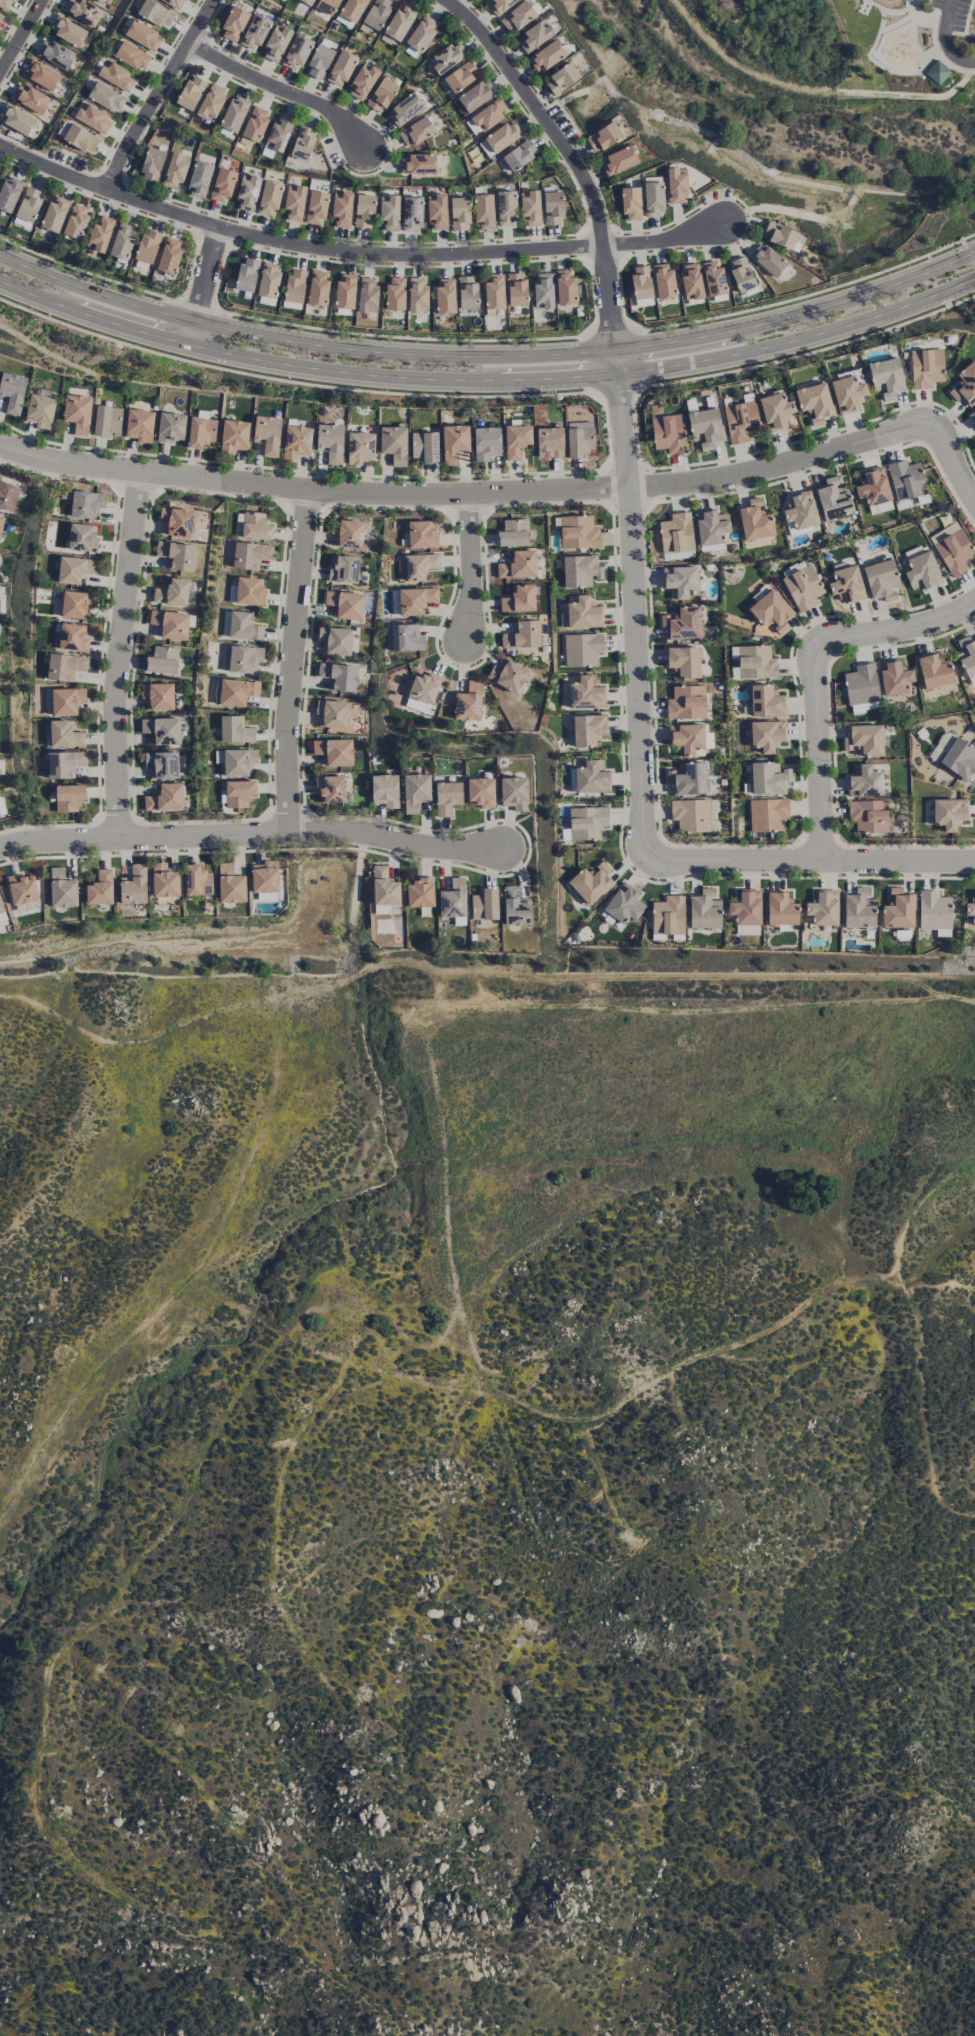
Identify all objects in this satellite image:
building: (102, 0)
building: (308, 1)
building: (174, 3)
building: (5, 4)
building: (327, 5)
building: (498, 5)
building: (83, 11)
road: (888, 11)
building: (155, 12)
building: (351, 12)
building: (377, 13)
road: (921, 14)
building: (1, 15)
road: (917, 15)
building: (517, 16)
road: (967, 16)
building: (233, 23)
building: (398, 23)
road: (897, 23)
building: (69, 30)
parking lot: (956, 30)
building: (254, 31)
building: (421, 32)
road: (963, 33)
building: (143, 35)
building: (535, 35)
road: (22, 38)
road: (944, 39)
park: (906, 41)
building: (276, 43)
water park: (900, 47)
building: (296, 52)
building: (55, 53)
building: (132, 55)
building: (546, 55)
building: (447, 57)
road: (941, 57)
building: (319, 61)
road: (883, 66)
road: (741, 67)
building: (341, 68)
building: (936, 71)
building: (42, 74)
building: (116, 75)
building: (459, 76)
building: (562, 78)
building: (362, 81)
road: (281, 90)
building: (191, 92)
road: (159, 94)
building: (381, 94)
road: (907, 94)
building: (106, 96)
building: (474, 96)
building: (30, 97)
building: (211, 102)
building: (405, 109)
building: (234, 113)
building: (489, 114)
building: (93, 118)
building: (18, 119)
building: (255, 123)
building: (415, 131)
building: (603, 136)
building: (81, 138)
building: (500, 138)
building: (303, 142)
building: (519, 154)
building: (619, 160)
road: (574, 161)
building: (417, 163)
building: (152, 164)
building: (175, 169)
building: (199, 178)
building: (222, 184)
building: (676, 185)
building: (247, 192)
building: (9, 193)
building: (269, 197)
building: (653, 198)
building: (294, 201)
building: (631, 203)
building: (29, 204)
building: (316, 207)
building: (552, 207)
building: (506, 208)
building: (530, 208)
building: (341, 209)
building: (364, 209)
building: (483, 210)
building: (389, 211)
building: (437, 211)
building: (411, 213)
building: (459, 213)
building: (54, 214)
building: (76, 221)
building: (100, 233)
building: (779, 234)
building: (122, 240)
building: (147, 246)
road: (353, 252)
building: (169, 256)
building: (767, 259)
building: (741, 273)
building: (246, 274)
building: (713, 277)
building: (268, 280)
building: (663, 280)
building: (691, 281)
building: (641, 282)
building: (295, 285)
road: (205, 286)
building: (565, 286)
building: (318, 288)
building: (516, 289)
building: (543, 290)
building: (345, 292)
building: (395, 292)
building: (467, 292)
building: (494, 293)
building: (367, 294)
building: (417, 294)
building: (445, 296)
road: (809, 351)
road: (487, 353)
building: (925, 367)
road: (488, 376)
building: (887, 376)
road: (293, 380)
building: (965, 384)
building: (12, 391)
road: (617, 391)
building: (847, 394)
building: (814, 402)
building: (40, 410)
building: (776, 410)
building: (77, 412)
building: (972, 415)
building: (107, 420)
building: (741, 421)
building: (140, 425)
building: (171, 426)
building: (706, 426)
building: (201, 432)
building: (267, 433)
building: (668, 433)
building: (234, 435)
building: (579, 438)
building: (516, 440)
building: (296, 441)
building: (330, 442)
building: (454, 442)
building: (549, 442)
building: (486, 443)
building: (394, 444)
building: (424, 446)
building: (360, 447)
building: (906, 479)
building: (873, 486)
road: (509, 492)
building: (8, 495)
building: (834, 499)
building: (86, 504)
building: (800, 510)
building: (755, 520)
building: (1, 521)
building: (178, 521)
building: (252, 525)
building: (711, 526)
building: (577, 531)
building: (513, 532)
building: (350, 533)
building: (676, 533)
building: (421, 534)
building: (82, 537)
building: (952, 548)
building: (177, 554)
building: (250, 554)
road: (471, 564)
building: (419, 565)
building: (518, 565)
building: (343, 568)
building: (75, 569)
building: (580, 570)
building: (922, 571)
building: (881, 579)
building: (680, 580)
building: (846, 584)
building: (803, 587)
building: (250, 591)
building: (172, 592)
building: (519, 598)
building: (412, 600)
building: (76, 604)
building: (346, 604)
road: (635, 607)
building: (771, 610)
building: (581, 614)
building: (683, 622)
building: (170, 623)
building: (243, 625)
building: (522, 635)
building: (73, 636)
building: (406, 637)
building: (335, 640)
building: (582, 649)
road: (120, 655)
building: (242, 658)
building: (162, 660)
road: (291, 661)
building: (684, 661)
building: (753, 662)
building: (65, 666)
building: (934, 671)
road: (815, 673)
building: (339, 675)
building: (507, 675)
building: (894, 677)
building: (861, 684)
building: (424, 686)
building: (237, 691)
building: (586, 693)
building: (158, 695)
building: (64, 701)
building: (765, 701)
building: (468, 702)
building: (686, 702)
building: (417, 705)
building: (332, 713)
building: (162, 729)
building: (235, 729)
building: (588, 729)
building: (65, 734)
building: (766, 735)
building: (687, 737)
building: (863, 739)
building: (941, 745)
building: (334, 751)
building: (959, 758)
building: (239, 761)
building: (64, 763)
building: (162, 764)
building: (592, 777)
building: (688, 777)
building: (768, 777)
building: (865, 781)
building: (331, 788)
building: (384, 790)
building: (415, 791)
building: (239, 792)
building: (481, 792)
building: (514, 792)
building: (69, 797)
building: (447, 797)
building: (165, 798)
building: (949, 812)
building: (690, 814)
building: (767, 814)
building: (868, 815)
building: (587, 822)
road: (250, 836)
road: (812, 861)
building: (265, 876)
building: (165, 880)
building: (197, 880)
building: (591, 882)
building: (230, 884)
building: (134, 885)
building: (384, 886)
building: (22, 888)
building: (62, 888)
building: (100, 888)
building: (419, 893)
building: (453, 899)
building: (624, 903)
building: (484, 904)
building: (516, 906)
building: (823, 907)
building: (386, 908)
building: (858, 908)
building: (971, 908)
building: (781, 909)
building: (898, 909)
building: (704, 910)
building: (933, 910)
building: (2, 911)
building: (746, 911)
building: (668, 915)

